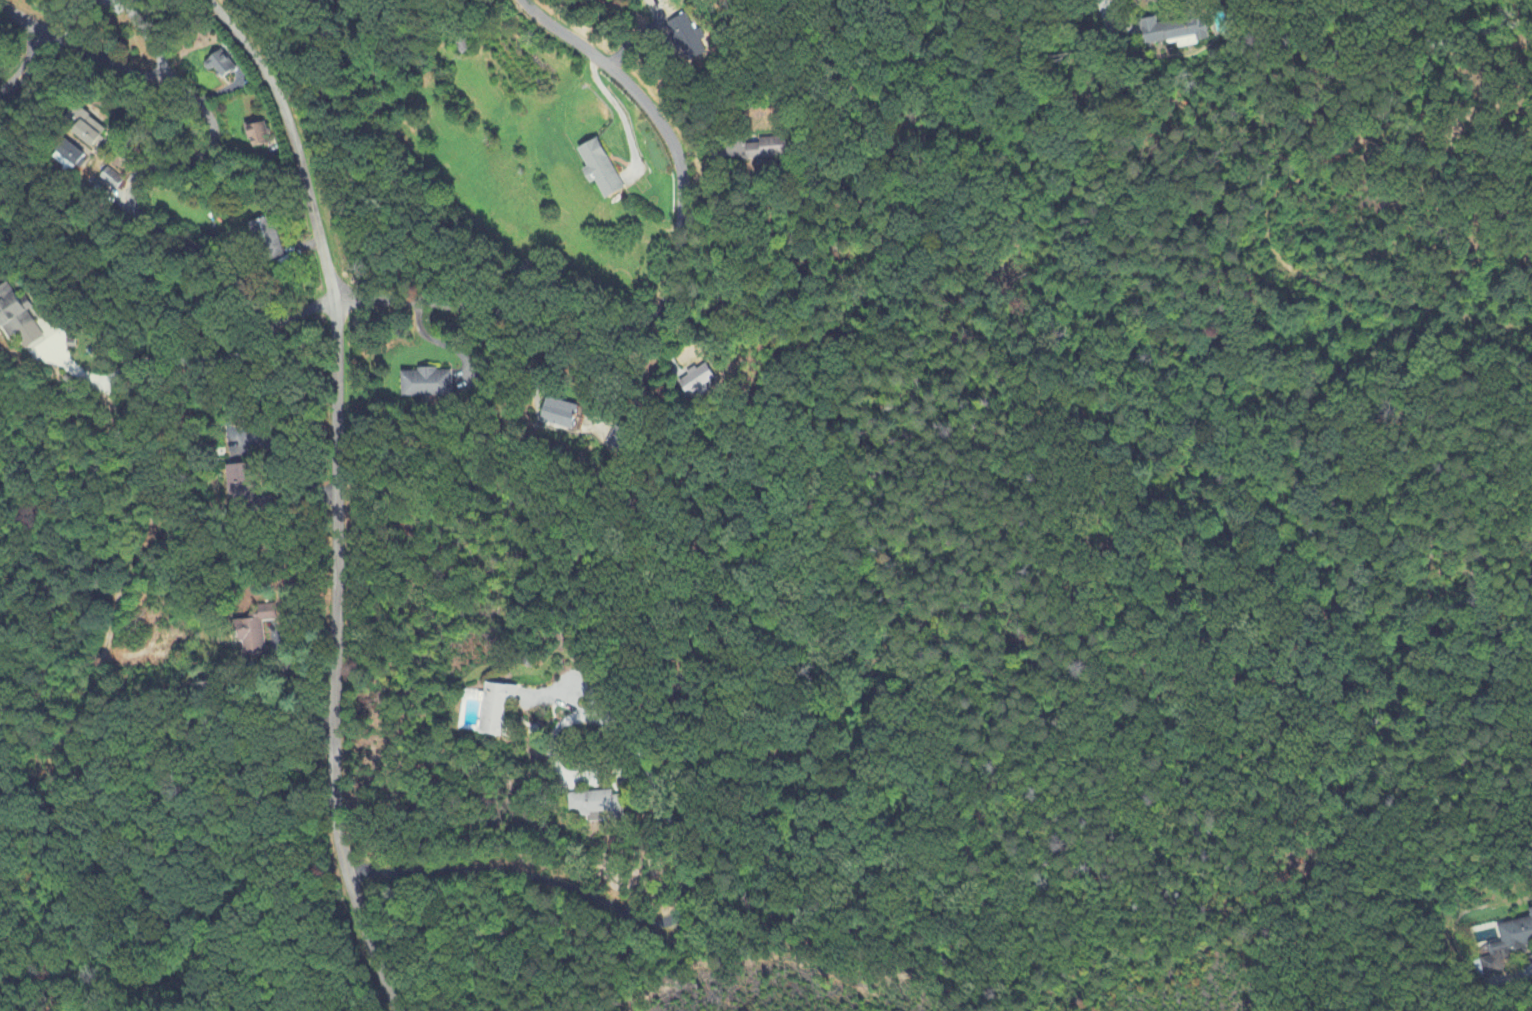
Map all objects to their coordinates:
road: (21, 18)
road: (1113, 20)
building: (1179, 28)
building: (685, 39)
road: (1416, 44)
road: (105, 64)
building: (220, 65)
road: (27, 67)
building: (85, 128)
building: (257, 136)
building: (767, 150)
building: (69, 157)
building: (595, 168)
building: (111, 179)
road: (137, 188)
building: (268, 241)
road: (675, 290)
building: (18, 318)
road: (438, 341)
road: (197, 357)
road: (79, 371)
building: (698, 383)
building: (426, 385)
building: (557, 415)
road: (292, 465)
building: (238, 481)
road: (337, 494)
road: (117, 606)
building: (254, 635)
road: (579, 690)
road: (303, 694)
building: (494, 709)
road: (552, 745)
building: (591, 804)
road: (633, 913)
building: (1506, 946)
road: (1529, 970)
road: (1397, 1003)

